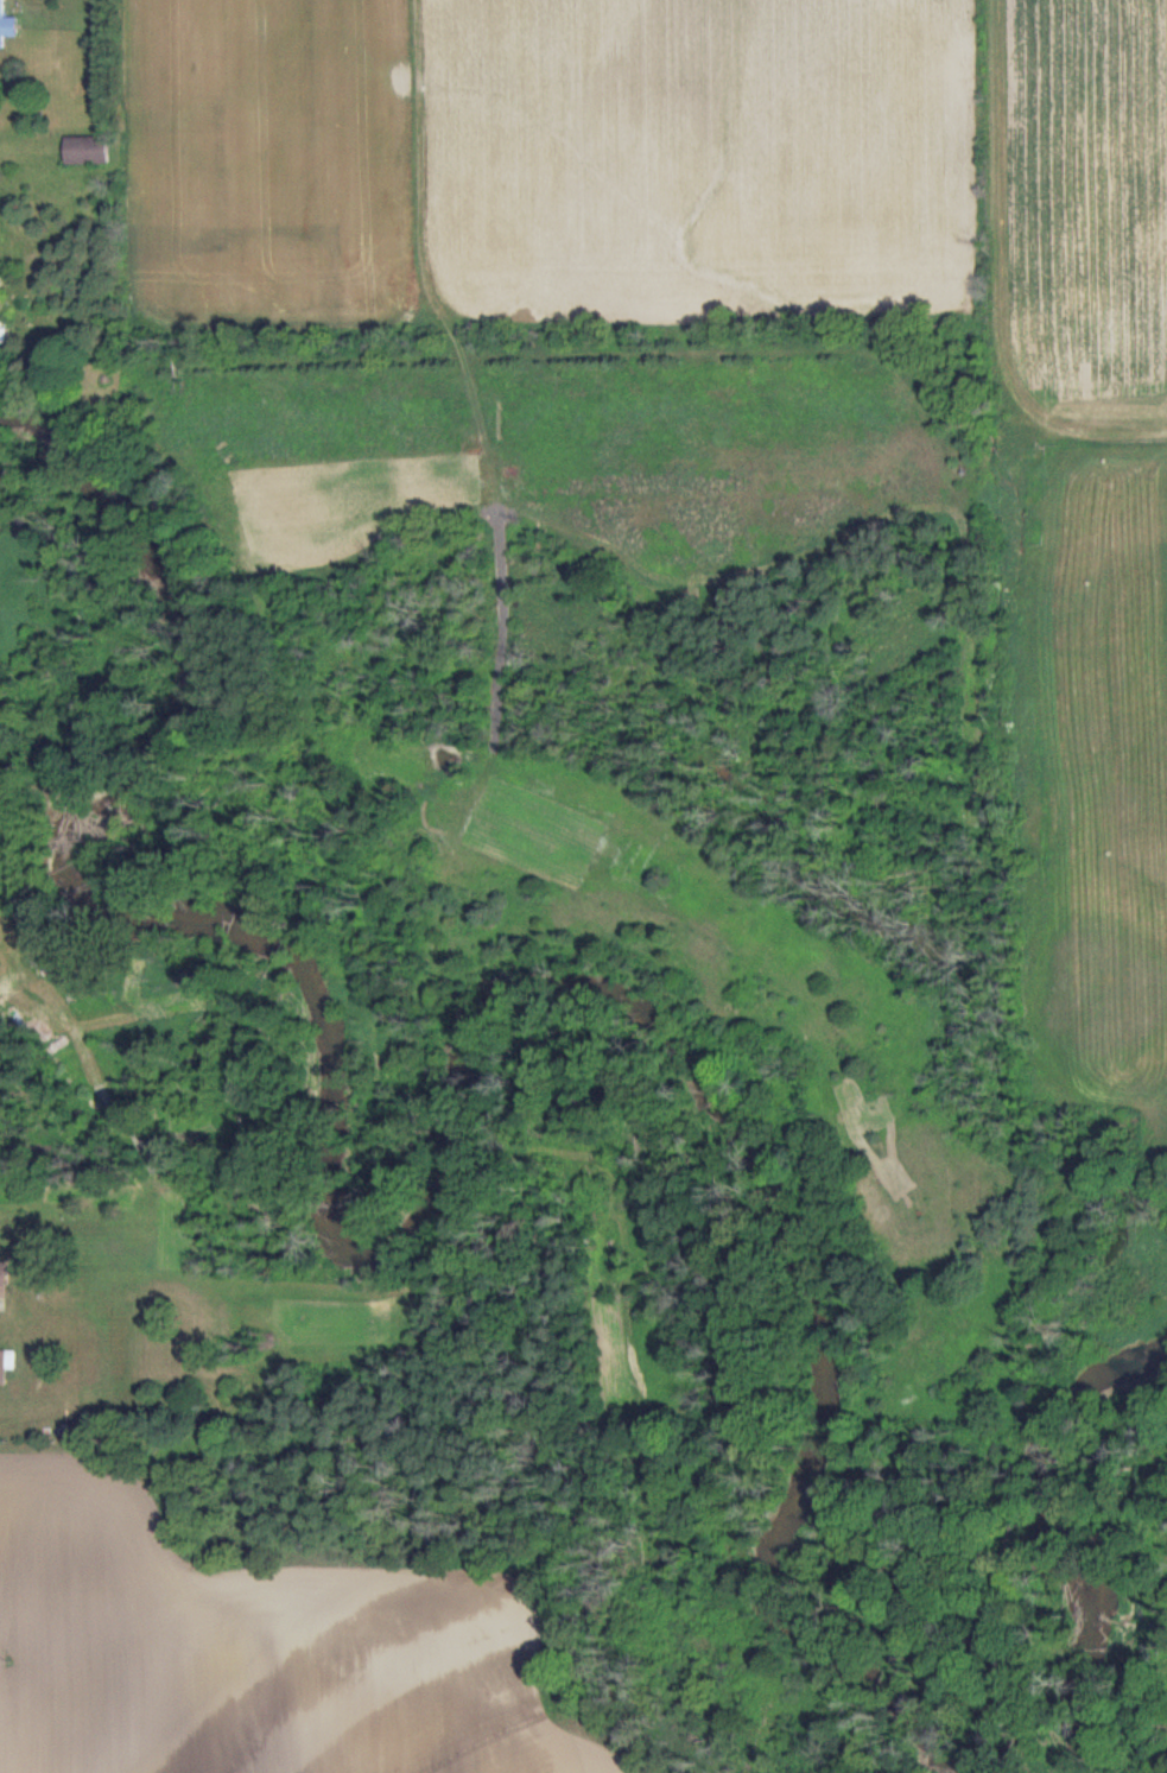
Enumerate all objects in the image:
building: (6, 26)
building: (87, 151)
building: (4, 1273)
building: (2, 1366)

